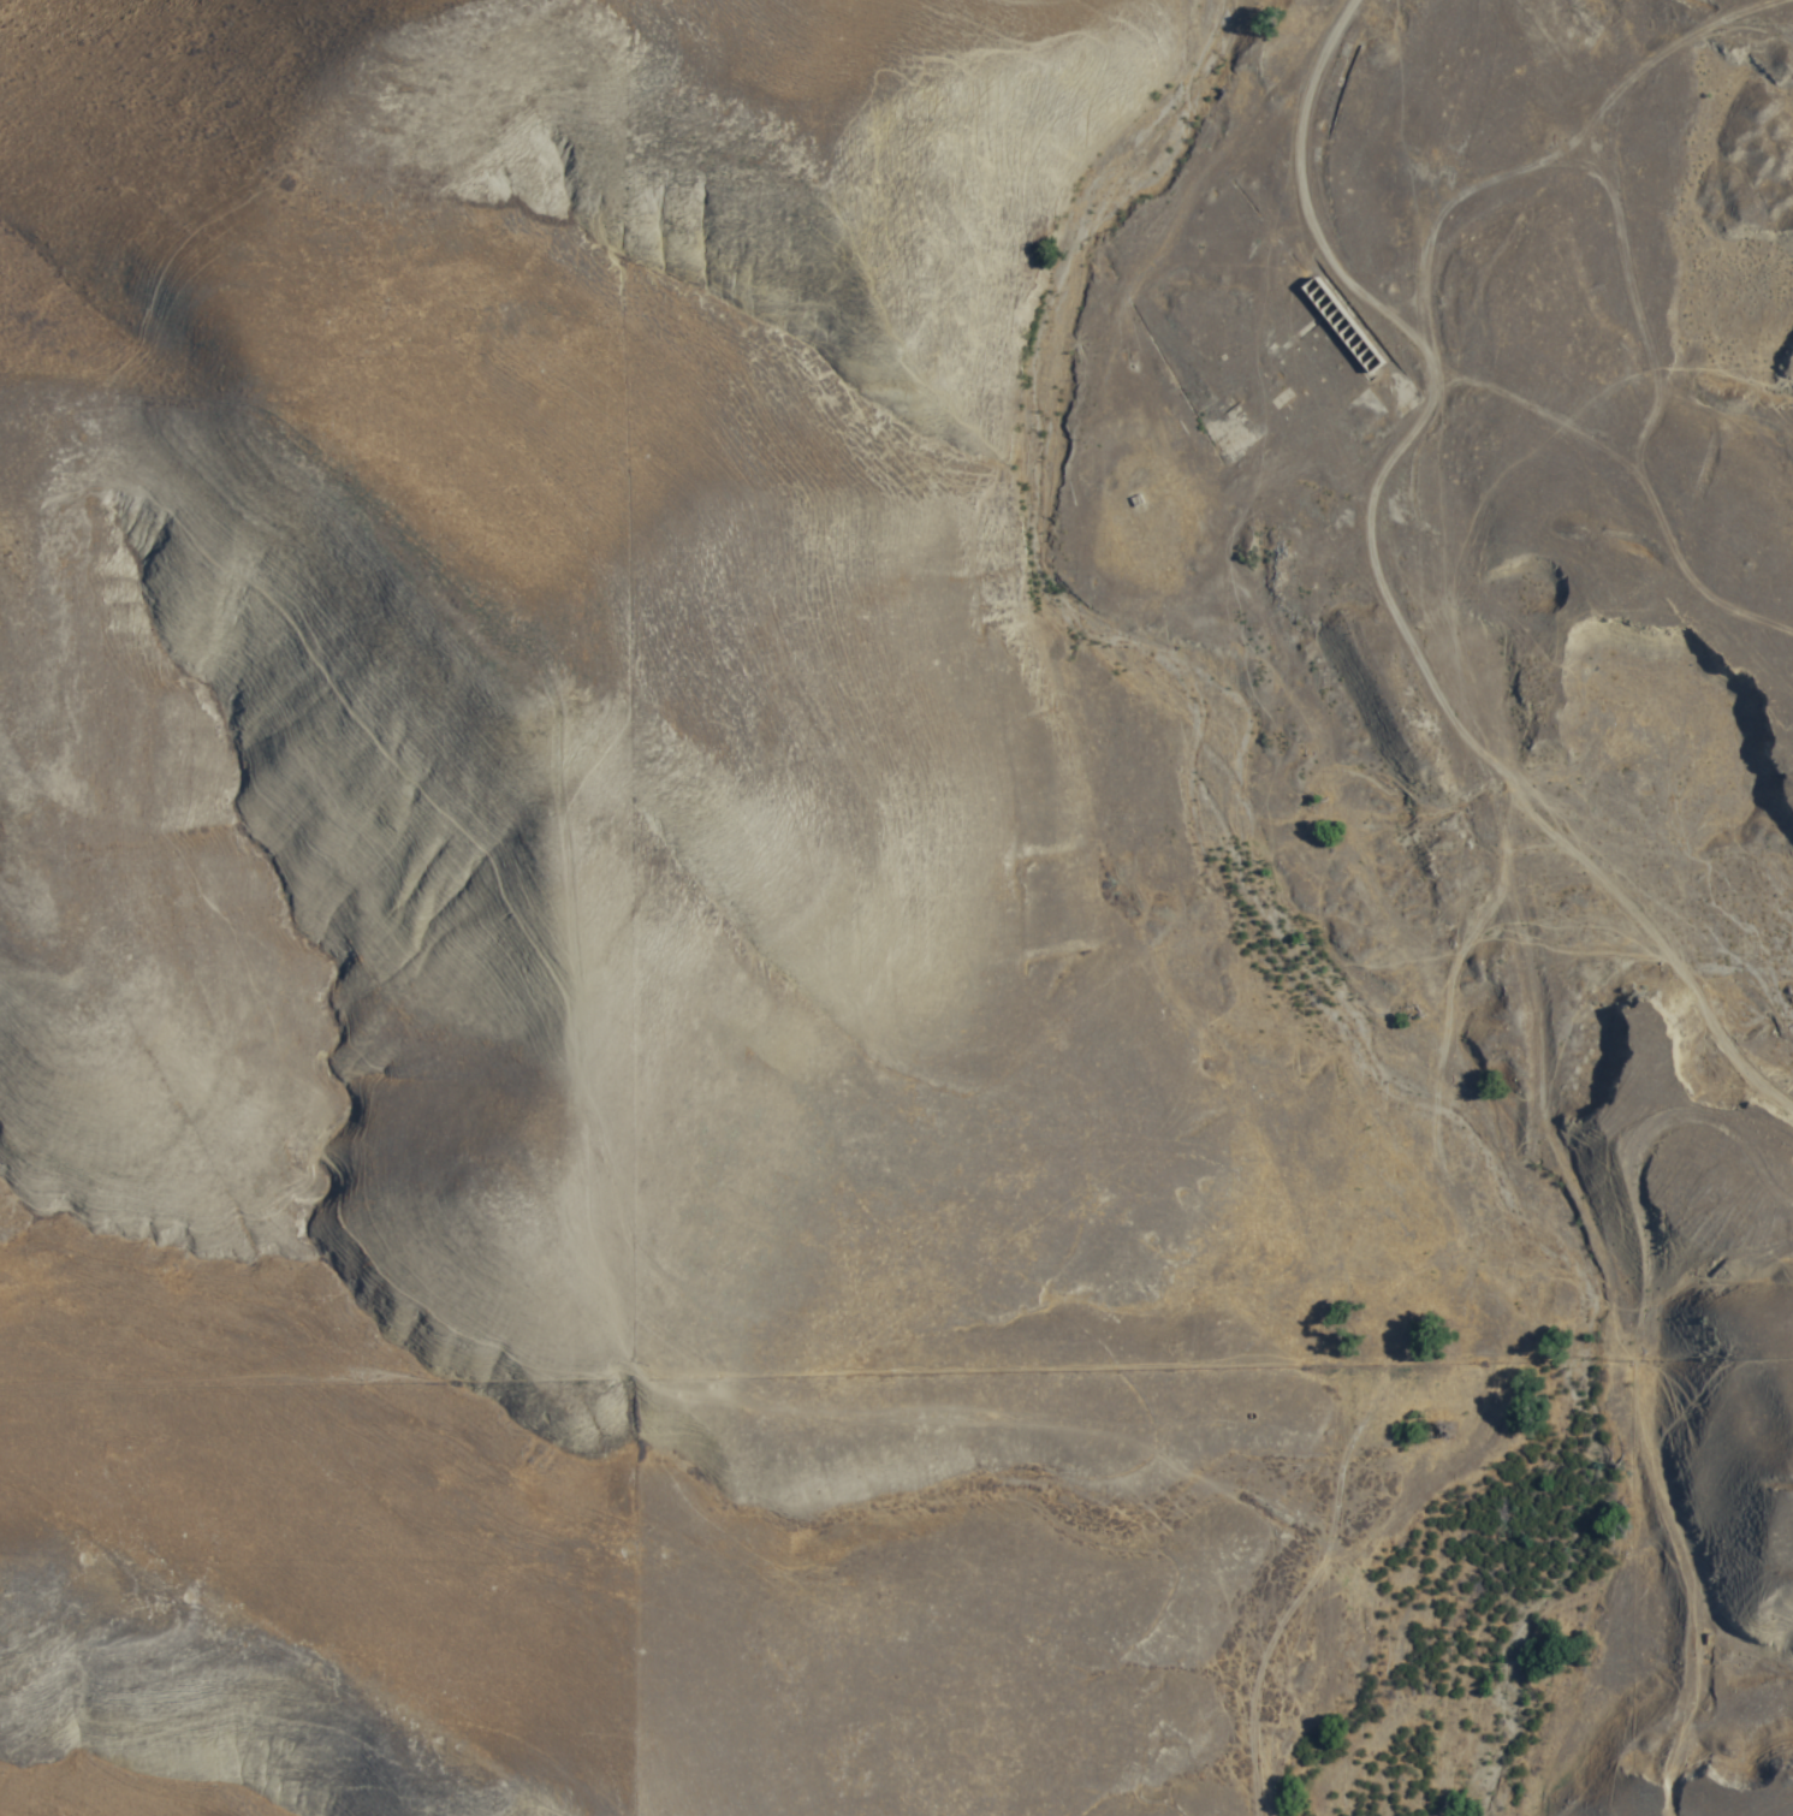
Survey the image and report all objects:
road: (1545, 148)
building: (1346, 324)
building: (1319, 356)
road: (1409, 431)
road: (1613, 1322)
road: (1399, 1342)

